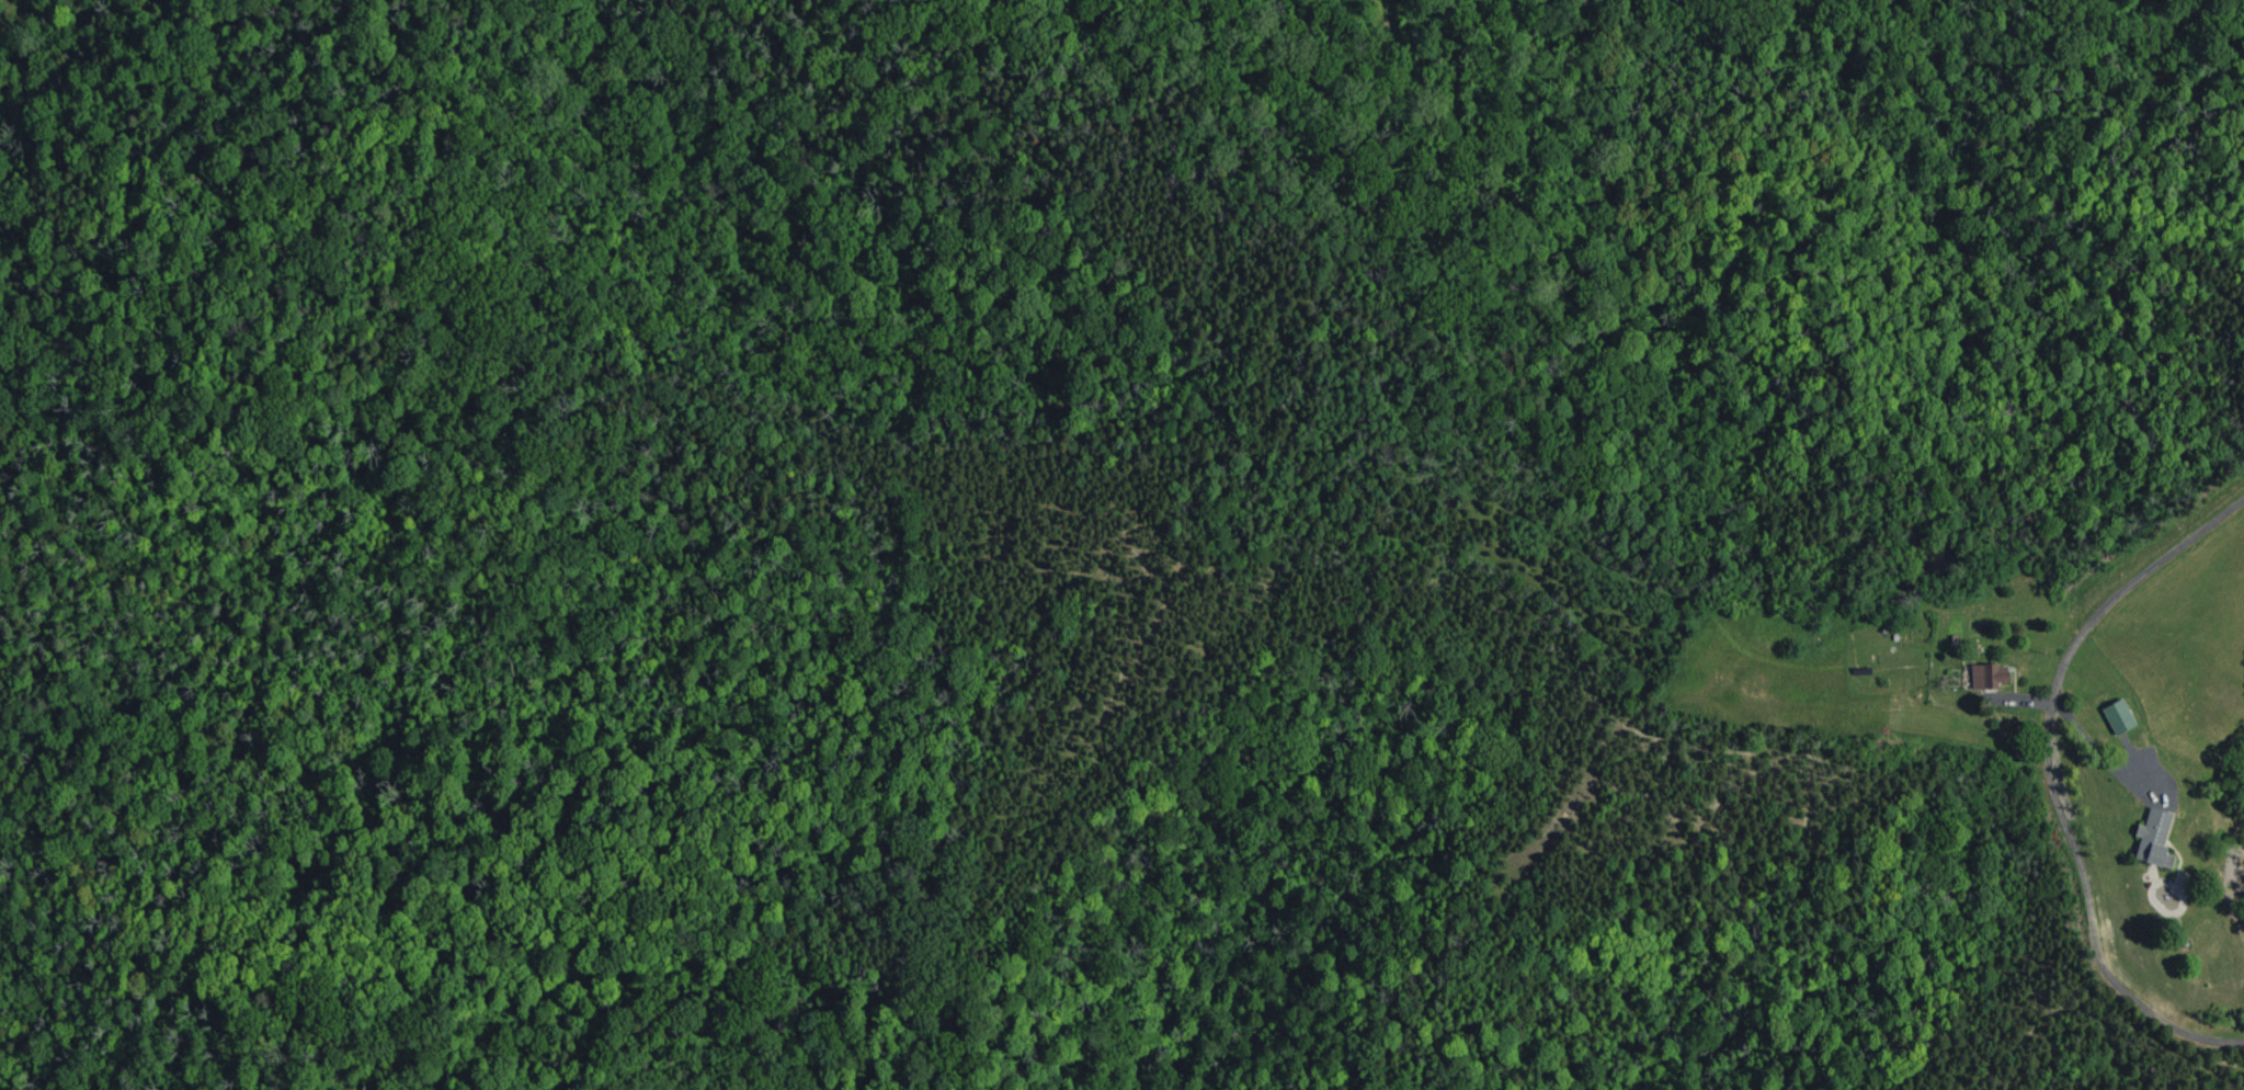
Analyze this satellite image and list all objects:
building: (2120, 716)
road: (2051, 802)

